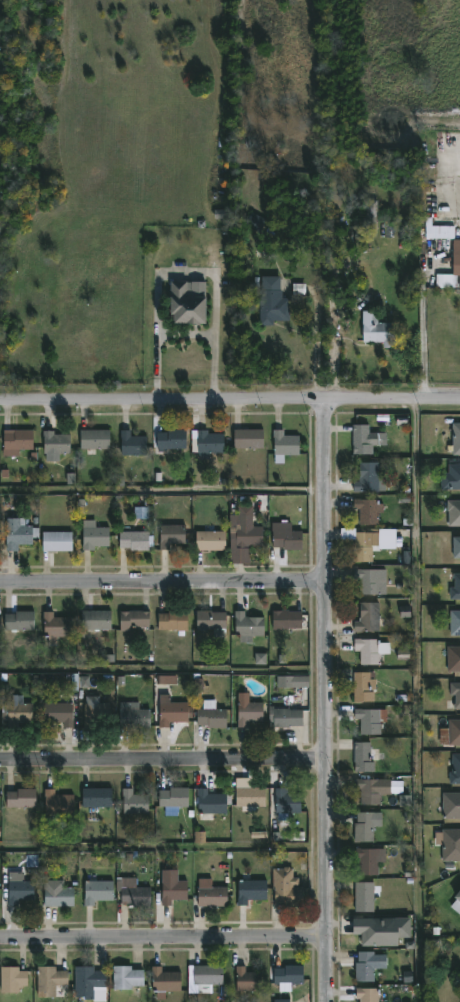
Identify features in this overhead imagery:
building: (427, 136)
building: (373, 216)
building: (255, 223)
building: (3, 232)
building: (446, 238)
building: (273, 303)
road: (364, 303)
building: (183, 306)
road: (423, 324)
building: (375, 330)
road: (229, 399)
building: (249, 438)
building: (95, 439)
building: (173, 439)
building: (455, 439)
building: (362, 440)
building: (19, 441)
building: (58, 443)
building: (133, 443)
building: (207, 444)
building: (286, 446)
building: (371, 478)
building: (450, 478)
building: (369, 510)
building: (452, 512)
building: (141, 513)
building: (243, 532)
building: (21, 534)
building: (172, 535)
building: (97, 536)
building: (285, 537)
building: (135, 540)
building: (58, 541)
building: (208, 541)
building: (368, 542)
building: (457, 547)
building: (369, 581)
road: (162, 582)
building: (455, 588)
building: (405, 611)
building: (369, 617)
building: (135, 619)
building: (287, 619)
building: (97, 620)
building: (212, 620)
building: (20, 621)
building: (174, 621)
building: (454, 623)
building: (58, 626)
building: (249, 627)
building: (369, 650)
building: (260, 659)
building: (452, 659)
building: (168, 680)
building: (84, 682)
building: (294, 682)
building: (198, 684)
building: (363, 687)
building: (455, 694)
road: (326, 699)
building: (97, 710)
building: (19, 712)
building: (170, 712)
building: (247, 712)
building: (60, 713)
building: (213, 716)
building: (286, 716)
building: (135, 719)
building: (370, 721)
building: (450, 733)
building: (364, 758)
road: (163, 760)
building: (456, 770)
building: (369, 791)
building: (246, 794)
building: (172, 796)
building: (98, 797)
building: (22, 798)
building: (135, 801)
building: (288, 801)
building: (209, 802)
building: (59, 803)
building: (450, 804)
building: (365, 827)
building: (0, 831)
building: (199, 837)
building: (449, 844)
building: (368, 861)
building: (285, 887)
building: (98, 891)
building: (172, 891)
building: (249, 891)
building: (21, 892)
building: (58, 893)
building: (135, 894)
building: (211, 896)
building: (363, 897)
building: (456, 900)
building: (373, 929)
road: (163, 938)
building: (369, 966)
building: (290, 975)
building: (208, 977)
building: (128, 978)
building: (245, 979)
building: (13, 980)
building: (51, 981)
building: (88, 982)
building: (166, 982)
building: (365, 994)
building: (282, 1001)

